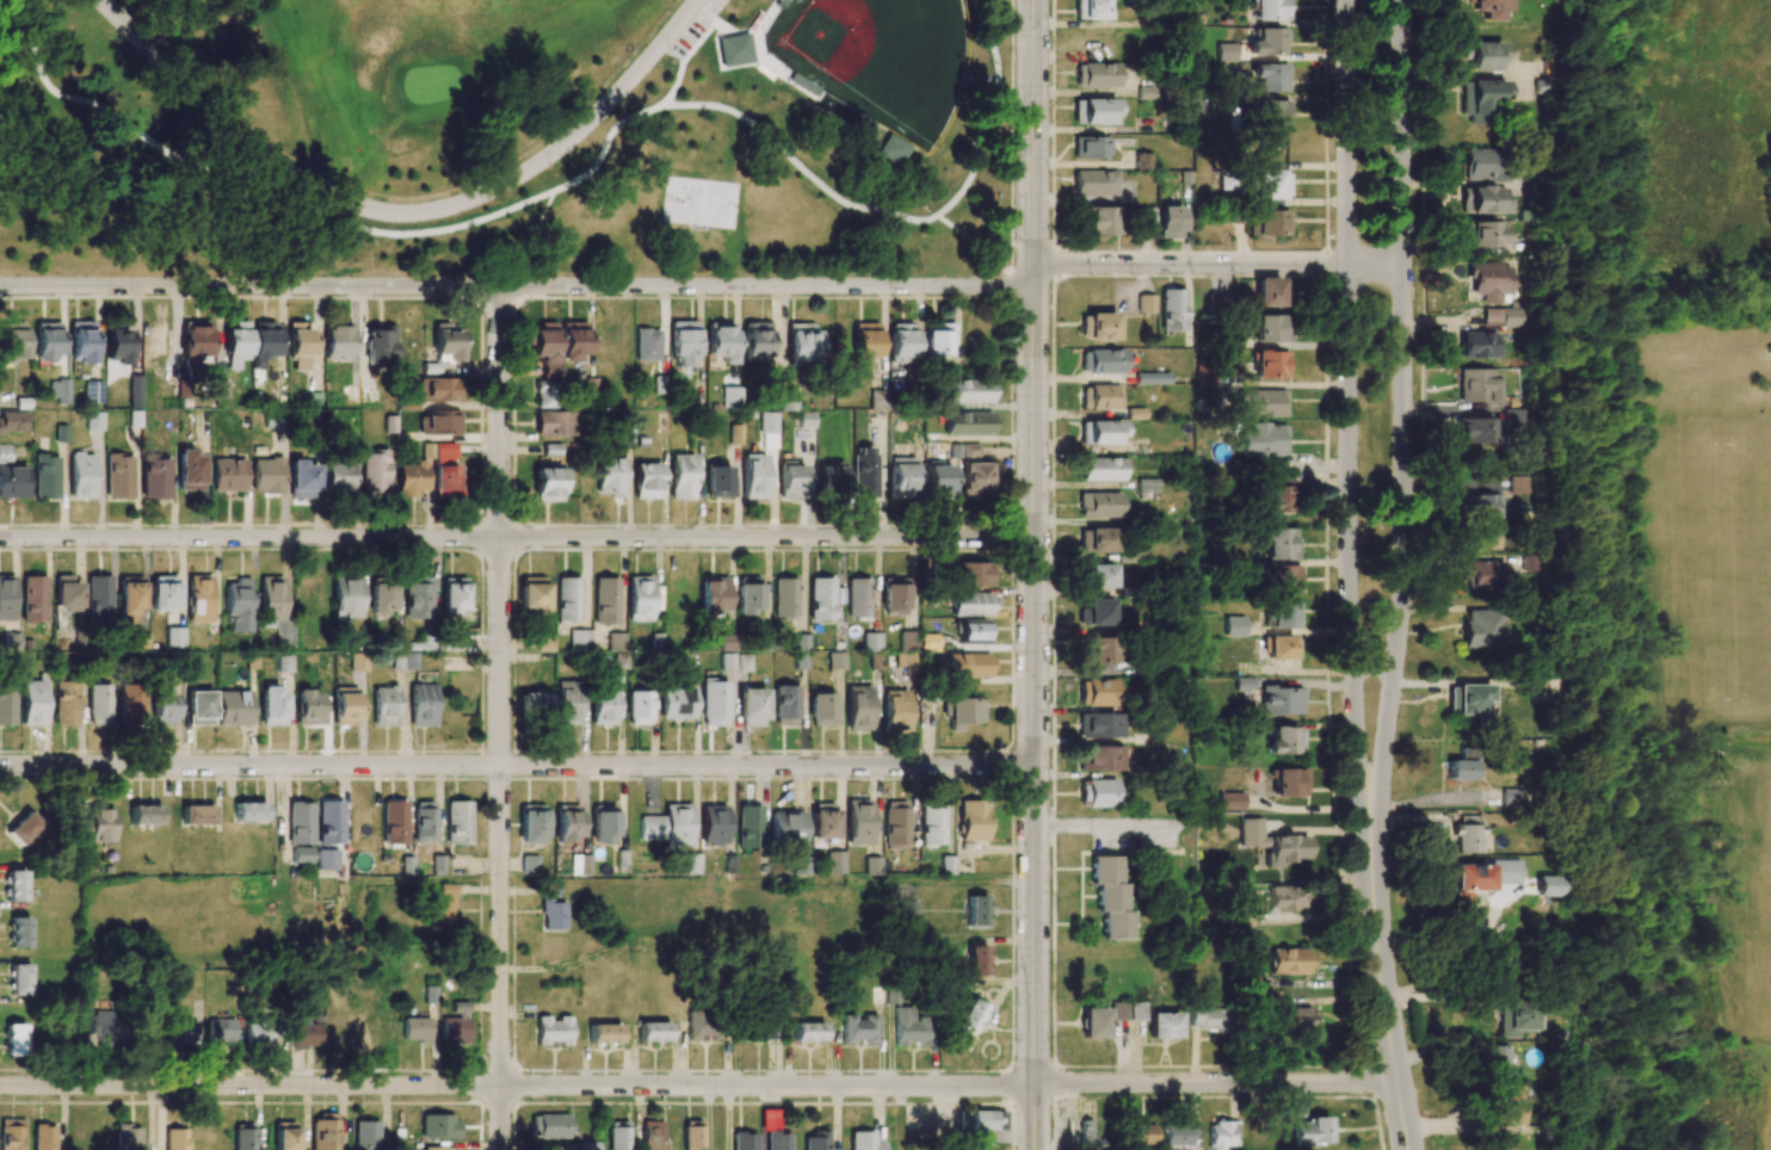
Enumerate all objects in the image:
building: (1489, 8)
building: (1091, 10)
building: (1271, 10)
parking lot: (690, 29)
street lamp: (1050, 32)
building: (1267, 42)
street lamp: (671, 47)
building: (733, 51)
building: (1226, 52)
building: (1481, 55)
park: (877, 57)
street lamp: (178, 63)
building: (1096, 75)
park: (400, 76)
building: (1270, 76)
park: (433, 84)
building: (1480, 99)
building: (1202, 109)
building: (1094, 111)
road: (989, 113)
building: (1271, 113)
road: (1011, 123)
park: (338, 142)
street lamp: (1357, 142)
street lamp: (1391, 143)
building: (1090, 147)
street lamp: (1014, 154)
park: (539, 157)
building: (1481, 165)
street lamp: (550, 167)
building: (1093, 183)
building: (1269, 185)
road: (837, 198)
building: (1481, 200)
park: (699, 202)
road: (401, 214)
road: (539, 217)
building: (1099, 221)
building: (1168, 223)
building: (1267, 223)
road: (387, 233)
building: (1481, 235)
street lamp: (1050, 236)
road: (1022, 246)
road: (1011, 260)
road: (1217, 264)
street lamp: (1130, 277)
street lamp: (1233, 278)
building: (1488, 280)
road: (517, 285)
road: (1421, 289)
building: (1270, 292)
street lamp: (111, 293)
street lamp: (597, 293)
street lamp: (5, 295)
street lamp: (229, 295)
street lamp: (376, 295)
street lamp: (470, 295)
street lamp: (708, 295)
street lamp: (816, 295)
street lamp: (925, 295)
building: (1215, 301)
building: (1144, 303)
building: (1172, 310)
street lamp: (1390, 311)
street lamp: (1360, 313)
building: (1499, 316)
building: (1098, 327)
building: (1270, 328)
building: (195, 339)
building: (13, 340)
building: (153, 340)
building: (572, 340)
building: (755, 340)
building: (865, 340)
building: (938, 340)
building: (45, 341)
building: (721, 341)
building: (81, 342)
building: (263, 342)
building: (337, 342)
building: (683, 342)
building: (901, 342)
building: (445, 344)
building: (801, 344)
building: (235, 345)
building: (379, 345)
building: (647, 345)
building: (1479, 345)
building: (118, 346)
building: (300, 346)
building: (543, 347)
building: (1102, 361)
street lamp: (1014, 363)
building: (1270, 365)
building: (1204, 375)
building: (1152, 378)
building: (1477, 385)
building: (135, 388)
building: (439, 389)
building: (57, 390)
building: (92, 391)
building: (967, 391)
building: (697, 392)
building: (544, 394)
building: (370, 395)
building: (1100, 397)
building: (877, 400)
building: (314, 401)
building: (789, 401)
building: (1260, 403)
road: (1347, 412)
road: (1403, 412)
building: (274, 420)
building: (1513, 420)
building: (94, 421)
building: (13, 422)
building: (439, 422)
building: (554, 423)
building: (968, 423)
building: (769, 429)
building: (1474, 431)
building: (1099, 433)
building: (735, 434)
building: (1263, 440)
building: (970, 450)
building: (5, 455)
street lamp: (1359, 463)
street lamp: (1390, 468)
building: (1100, 469)
building: (189, 470)
building: (81, 471)
building: (445, 471)
building: (863, 472)
building: (374, 474)
building: (227, 475)
building: (266, 475)
building: (118, 476)
building: (681, 476)
building: (753, 476)
building: (45, 477)
building: (154, 477)
building: (339, 477)
building: (610, 477)
building: (901, 477)
building: (412, 478)
building: (829, 478)
building: (938, 478)
building: (302, 480)
building: (975, 480)
building: (647, 481)
building: (720, 481)
building: (790, 481)
building: (13, 482)
building: (547, 484)
building: (1513, 484)
building: (1278, 495)
building: (1098, 505)
building: (1473, 506)
road: (516, 539)
building: (1483, 539)
building: (1096, 540)
building: (1279, 544)
building: (1525, 563)
park: (1710, 570)
building: (971, 574)
building: (1480, 574)
road: (1033, 575)
building: (1096, 575)
building: (1282, 579)
building: (163, 593)
building: (66, 594)
building: (532, 594)
building: (714, 595)
building: (748, 595)
building: (895, 595)
building: (452, 596)
building: (785, 596)
building: (6, 598)
building: (346, 598)
building: (418, 598)
building: (33, 599)
building: (99, 599)
building: (129, 599)
building: (198, 599)
building: (382, 599)
building: (568, 599)
building: (638, 599)
building: (821, 599)
building: (858, 599)
building: (606, 601)
building: (237, 605)
building: (970, 605)
building: (274, 607)
building: (1096, 613)
building: (1282, 614)
building: (1233, 626)
building: (1479, 629)
building: (971, 631)
street lamp: (1360, 631)
street lamp: (1384, 633)
building: (174, 637)
building: (580, 639)
building: (544, 641)
building: (616, 641)
building: (908, 641)
building: (11, 642)
building: (138, 642)
building: (437, 642)
building: (727, 642)
building: (872, 642)
building: (928, 642)
building: (1282, 648)
building: (1097, 650)
building: (405, 661)
building: (837, 661)
building: (727, 662)
building: (742, 662)
building: (907, 662)
building: (284, 663)
building: (967, 664)
road: (1374, 664)
building: (1097, 692)
building: (1467, 699)
building: (1281, 700)
building: (533, 701)
building: (32, 703)
building: (66, 703)
building: (131, 703)
building: (567, 703)
building: (677, 703)
building: (714, 703)
building: (6, 704)
building: (99, 704)
building: (271, 705)
building: (421, 705)
building: (785, 705)
building: (345, 706)
building: (384, 706)
building: (603, 706)
building: (163, 707)
building: (199, 707)
building: (233, 707)
building: (638, 707)
building: (751, 707)
building: (858, 707)
building: (309, 709)
building: (823, 710)
building: (895, 711)
building: (963, 712)
road: (500, 717)
building: (1100, 725)
building: (1285, 740)
building: (1100, 758)
road: (516, 767)
building: (1460, 769)
building: (1292, 783)
building: (1098, 793)
street lamp: (1393, 793)
building: (1511, 797)
building: (248, 811)
building: (144, 815)
building: (197, 815)
building: (823, 821)
building: (971, 821)
building: (329, 822)
building: (394, 822)
building: (424, 822)
building: (858, 822)
building: (300, 823)
building: (457, 823)
building: (531, 823)
building: (567, 823)
building: (604, 823)
building: (932, 823)
building: (712, 824)
building: (896, 824)
building: (95, 826)
building: (668, 826)
building: (748, 827)
building: (786, 827)
road: (1102, 827)
building: (23, 828)
building: (1467, 834)
building: (1272, 842)
building: (301, 854)
building: (326, 859)
building: (835, 862)
building: (529, 864)
building: (580, 864)
building: (691, 864)
building: (800, 866)
building: (1471, 878)
road: (958, 882)
building: (14, 886)
building: (1547, 886)
building: (1110, 897)
park: (1754, 897)
building: (1285, 898)
building: (442, 908)
building: (551, 909)
park: (766, 910)
building: (976, 910)
road: (322, 913)
park: (232, 917)
street lamp: (1393, 929)
building: (19, 932)
building: (976, 960)
building: (1288, 962)
building: (1501, 970)
building: (19, 979)
road: (1381, 987)
road: (1442, 996)
building: (1118, 1010)
building: (969, 1016)
building: (1209, 1018)
building: (1517, 1018)
building: (456, 1024)
building: (1093, 1024)
building: (703, 1025)
building: (760, 1025)
building: (1164, 1026)
building: (105, 1028)
building: (858, 1028)
building: (909, 1028)
building: (415, 1030)
building: (553, 1031)
building: (653, 1032)
building: (808, 1032)
building: (221, 1033)
building: (260, 1033)
building: (304, 1033)
building: (604, 1033)
building: (150, 1034)
building: (183, 1034)
building: (14, 1039)
street lamp: (1371, 1050)
building: (1494, 1061)
road: (1214, 1082)
road: (517, 1086)
building: (1507, 1105)
road: (899, 1118)
building: (977, 1120)
building: (998, 1120)
building: (438, 1126)
building: (548, 1126)
building: (323, 1132)
building: (1309, 1132)
building: (1142, 1133)
building: (12, 1134)
building: (365, 1134)
building: (692, 1134)
building: (1175, 1134)
building: (1222, 1134)
building: (284, 1136)
building: (617, 1136)
building: (652, 1136)
building: (44, 1137)
building: (129, 1137)
building: (243, 1137)
building: (1088, 1137)
building: (177, 1139)
building: (743, 1140)
building: (778, 1140)
building: (815, 1142)
building: (864, 1142)
building: (551, 1148)
building: (438, 1149)

